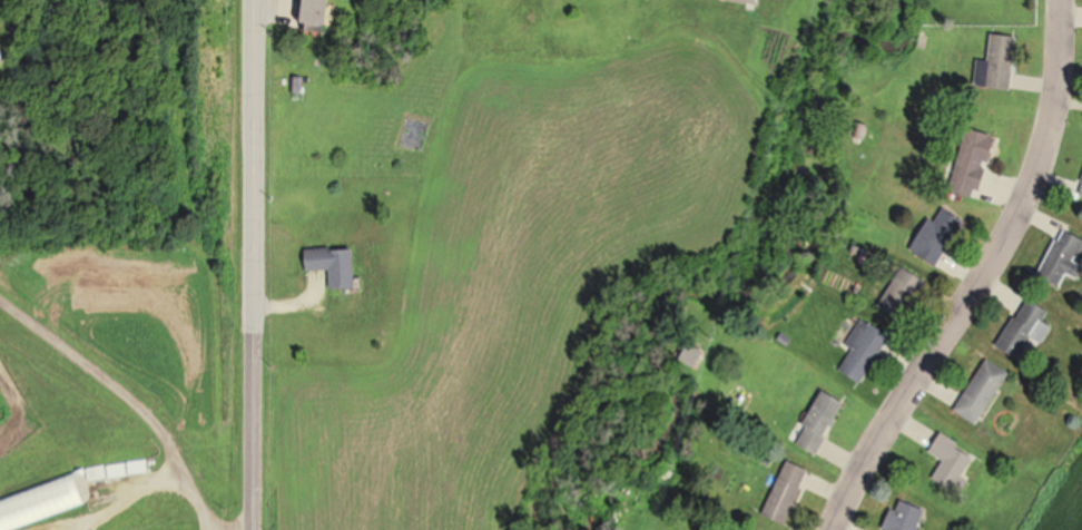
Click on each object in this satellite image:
building: (749, 1)
building: (319, 16)
building: (3, 58)
building: (1001, 65)
building: (976, 165)
building: (1081, 196)
building: (942, 238)
building: (1065, 259)
road: (259, 264)
building: (335, 265)
road: (975, 276)
building: (906, 295)
building: (1027, 328)
building: (868, 353)
road: (128, 391)
building: (984, 392)
building: (824, 423)
building: (954, 461)
building: (137, 465)
building: (104, 471)
road: (126, 484)
building: (789, 490)
building: (40, 502)
building: (911, 517)

